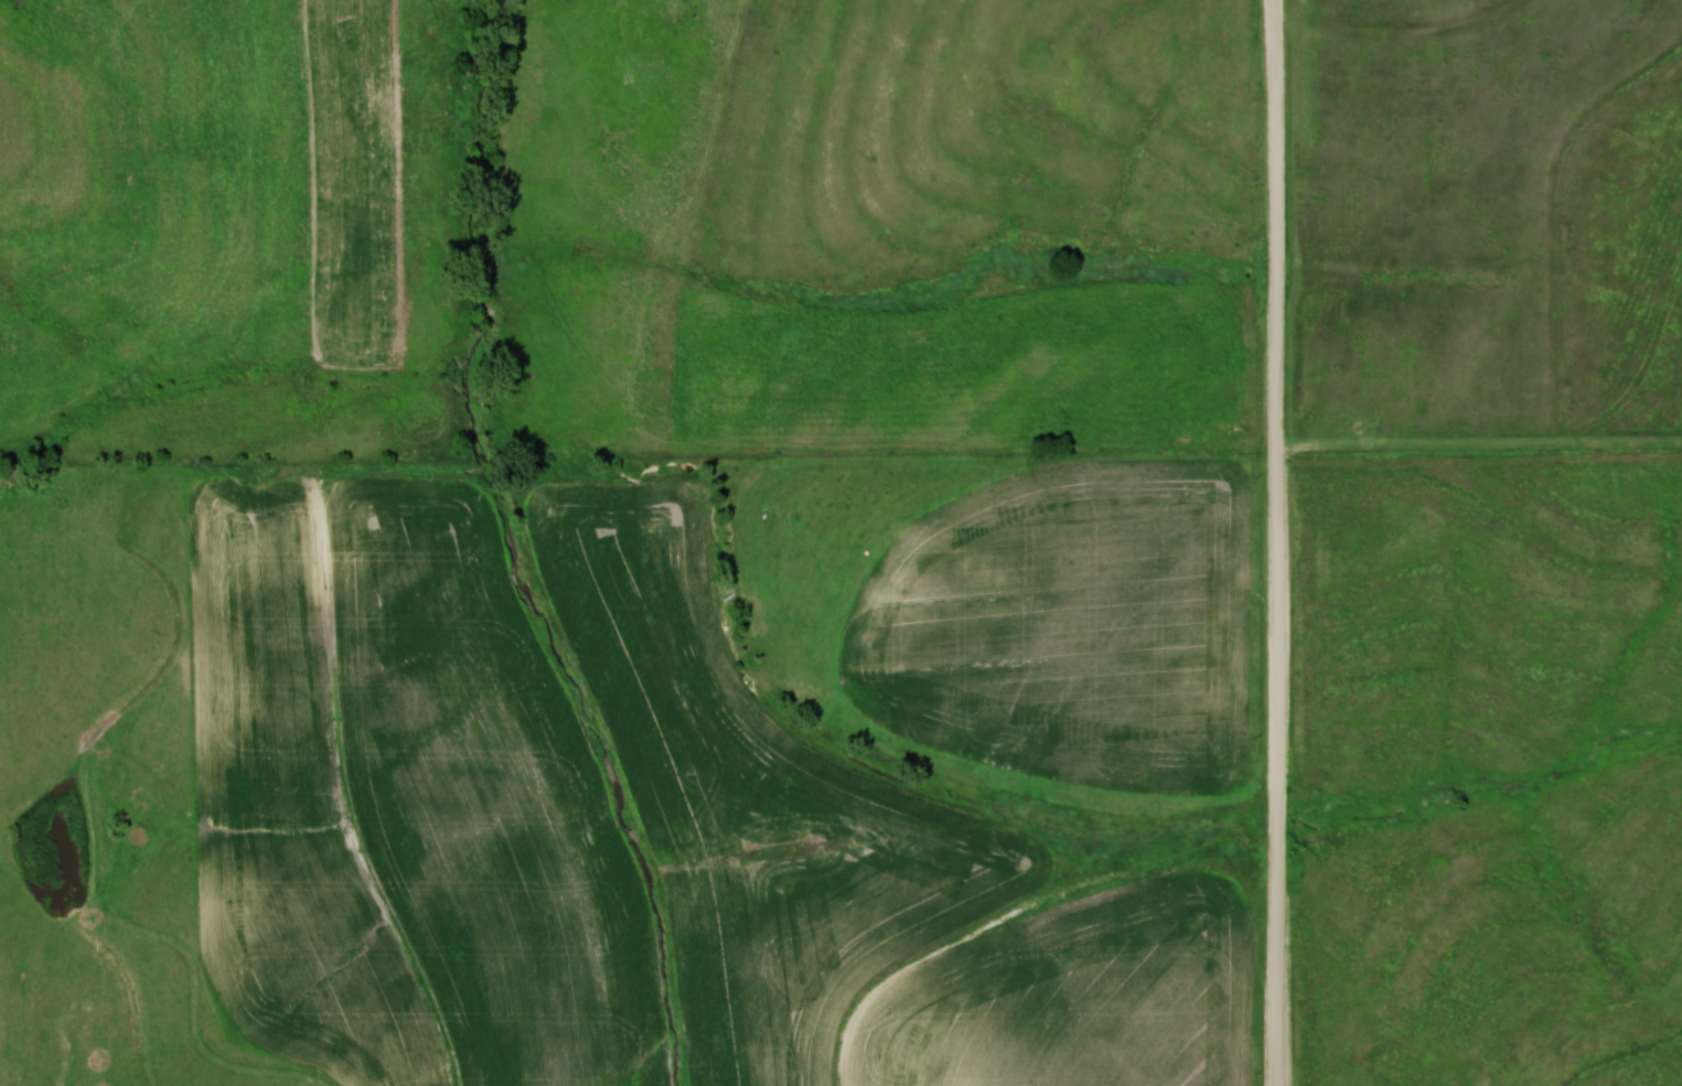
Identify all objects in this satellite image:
road: (1278, 542)

